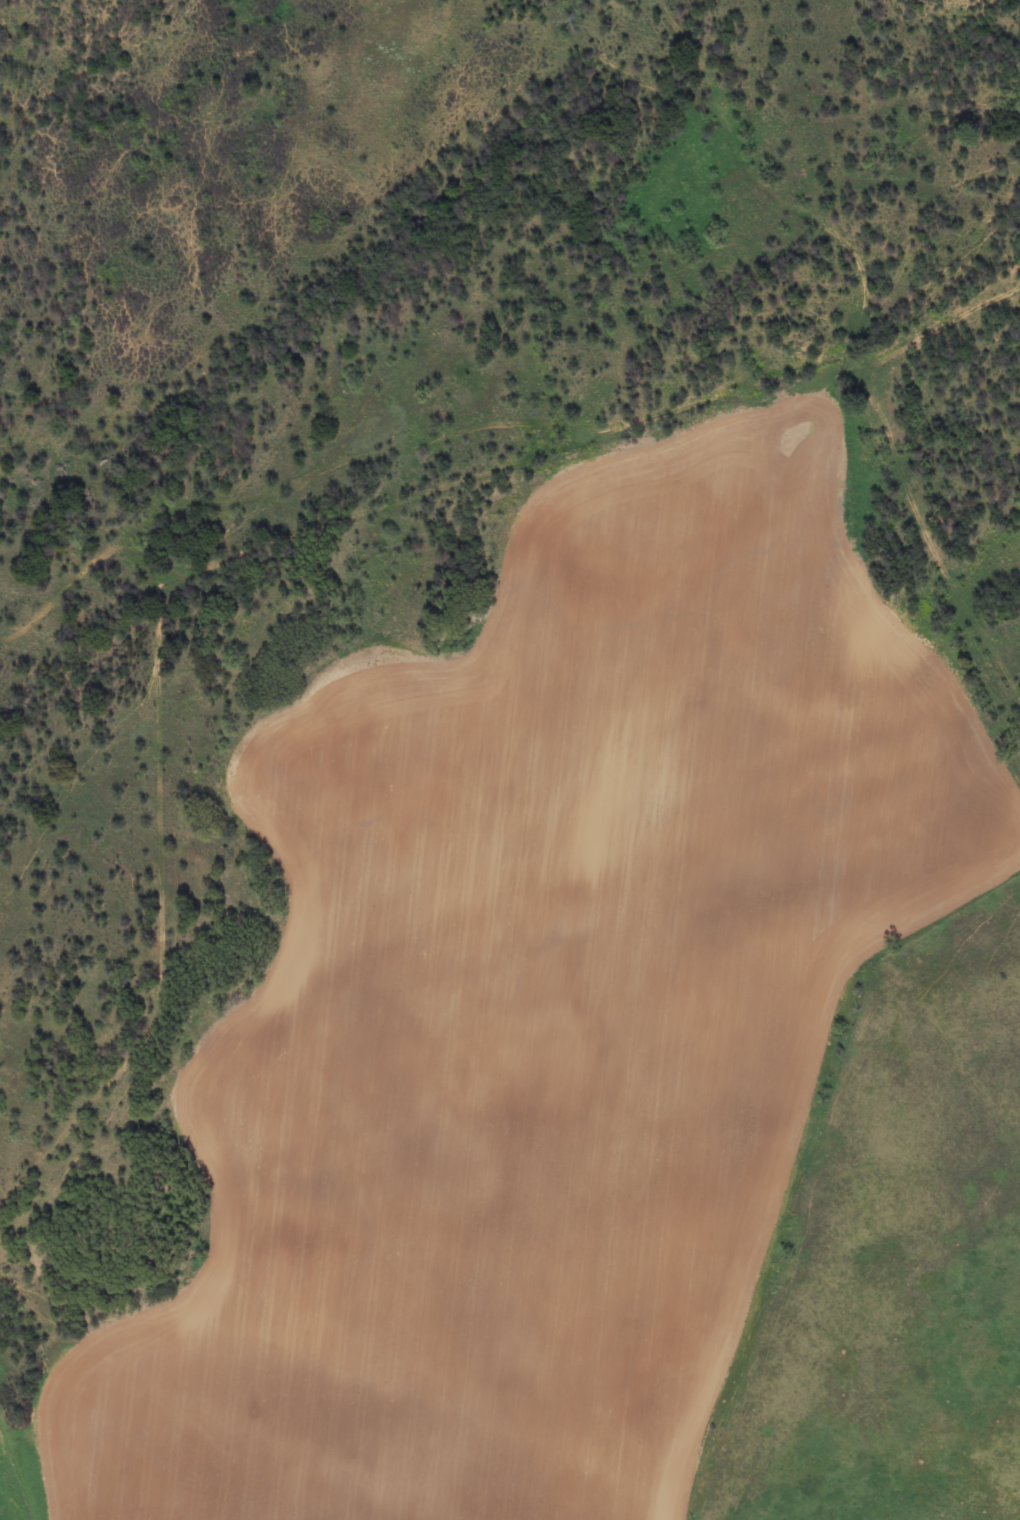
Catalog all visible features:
road: (980, 517)

